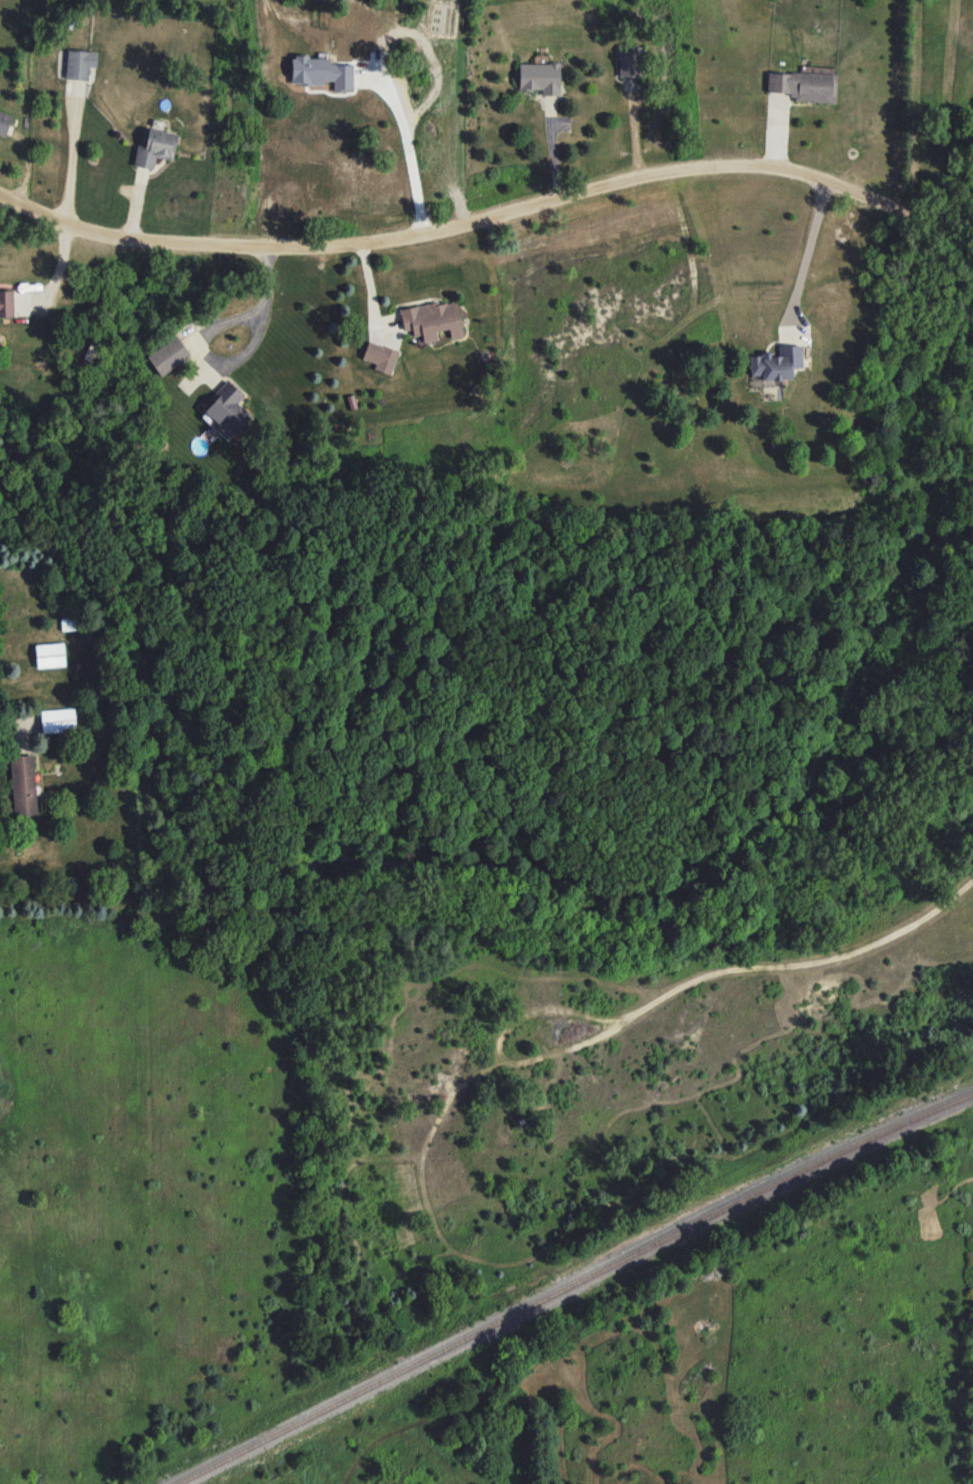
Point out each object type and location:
building: (631, 61)
building: (80, 64)
building: (321, 72)
building: (540, 77)
building: (805, 86)
building: (4, 123)
building: (155, 148)
road: (554, 150)
road: (411, 152)
road: (70, 168)
road: (624, 176)
road: (128, 236)
road: (805, 250)
road: (263, 299)
building: (6, 302)
building: (433, 319)
building: (168, 355)
building: (381, 356)
building: (775, 363)
building: (228, 409)
building: (50, 655)
building: (57, 720)
building: (23, 784)
railway: (567, 1275)

